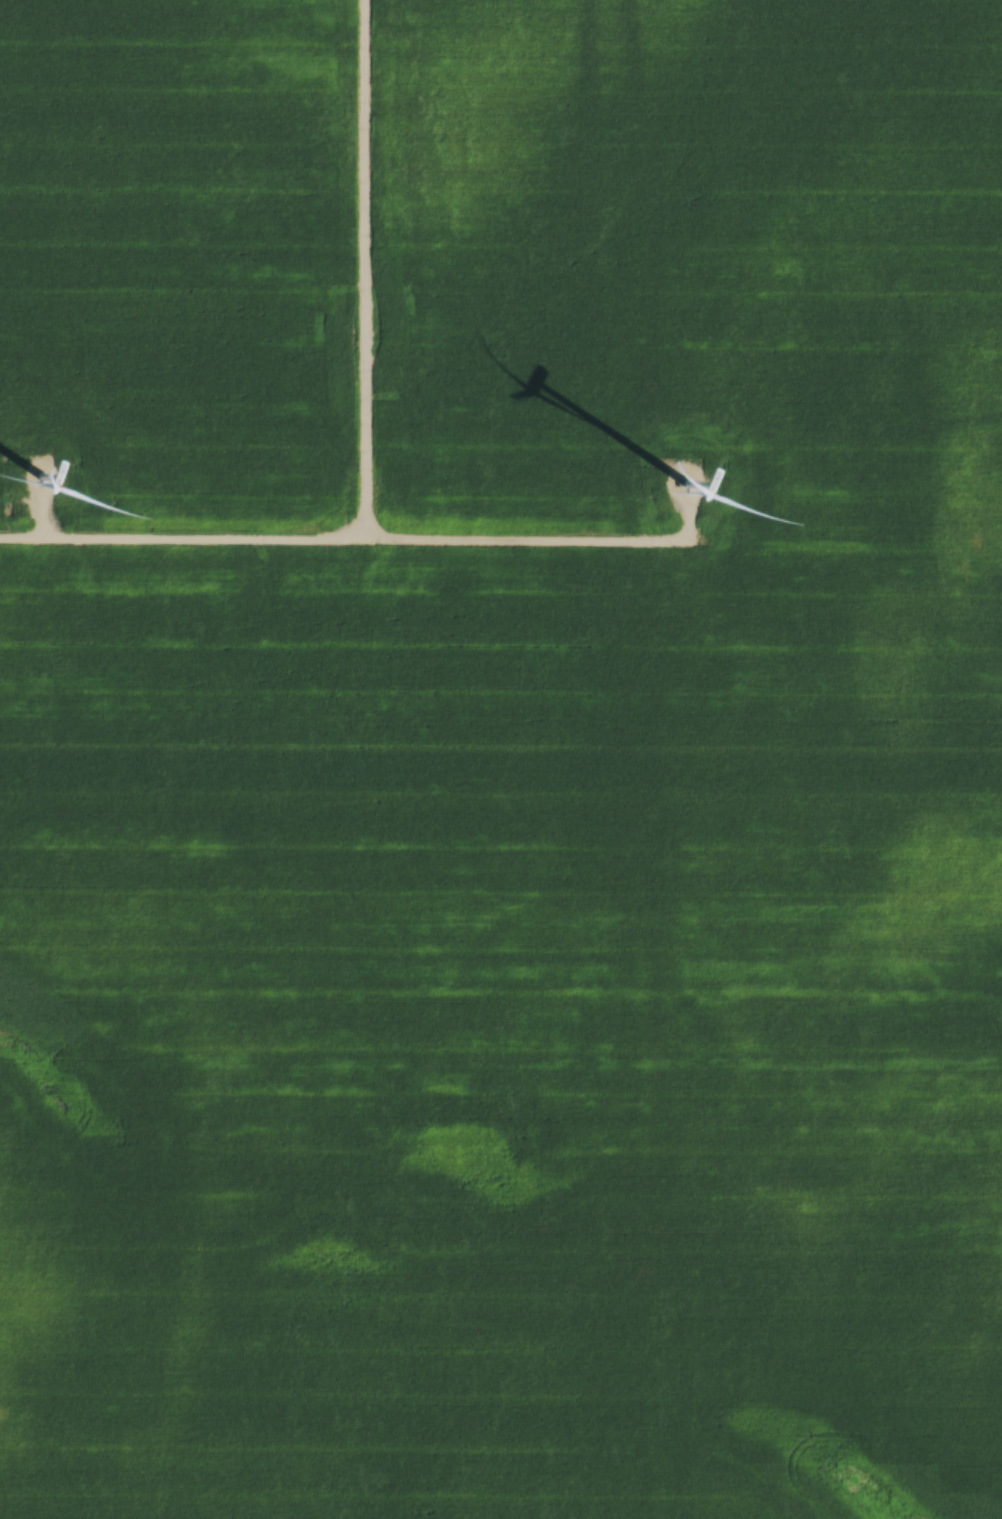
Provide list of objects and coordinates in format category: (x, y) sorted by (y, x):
wind turbine: (46, 476)
wind turbine: (689, 490)

